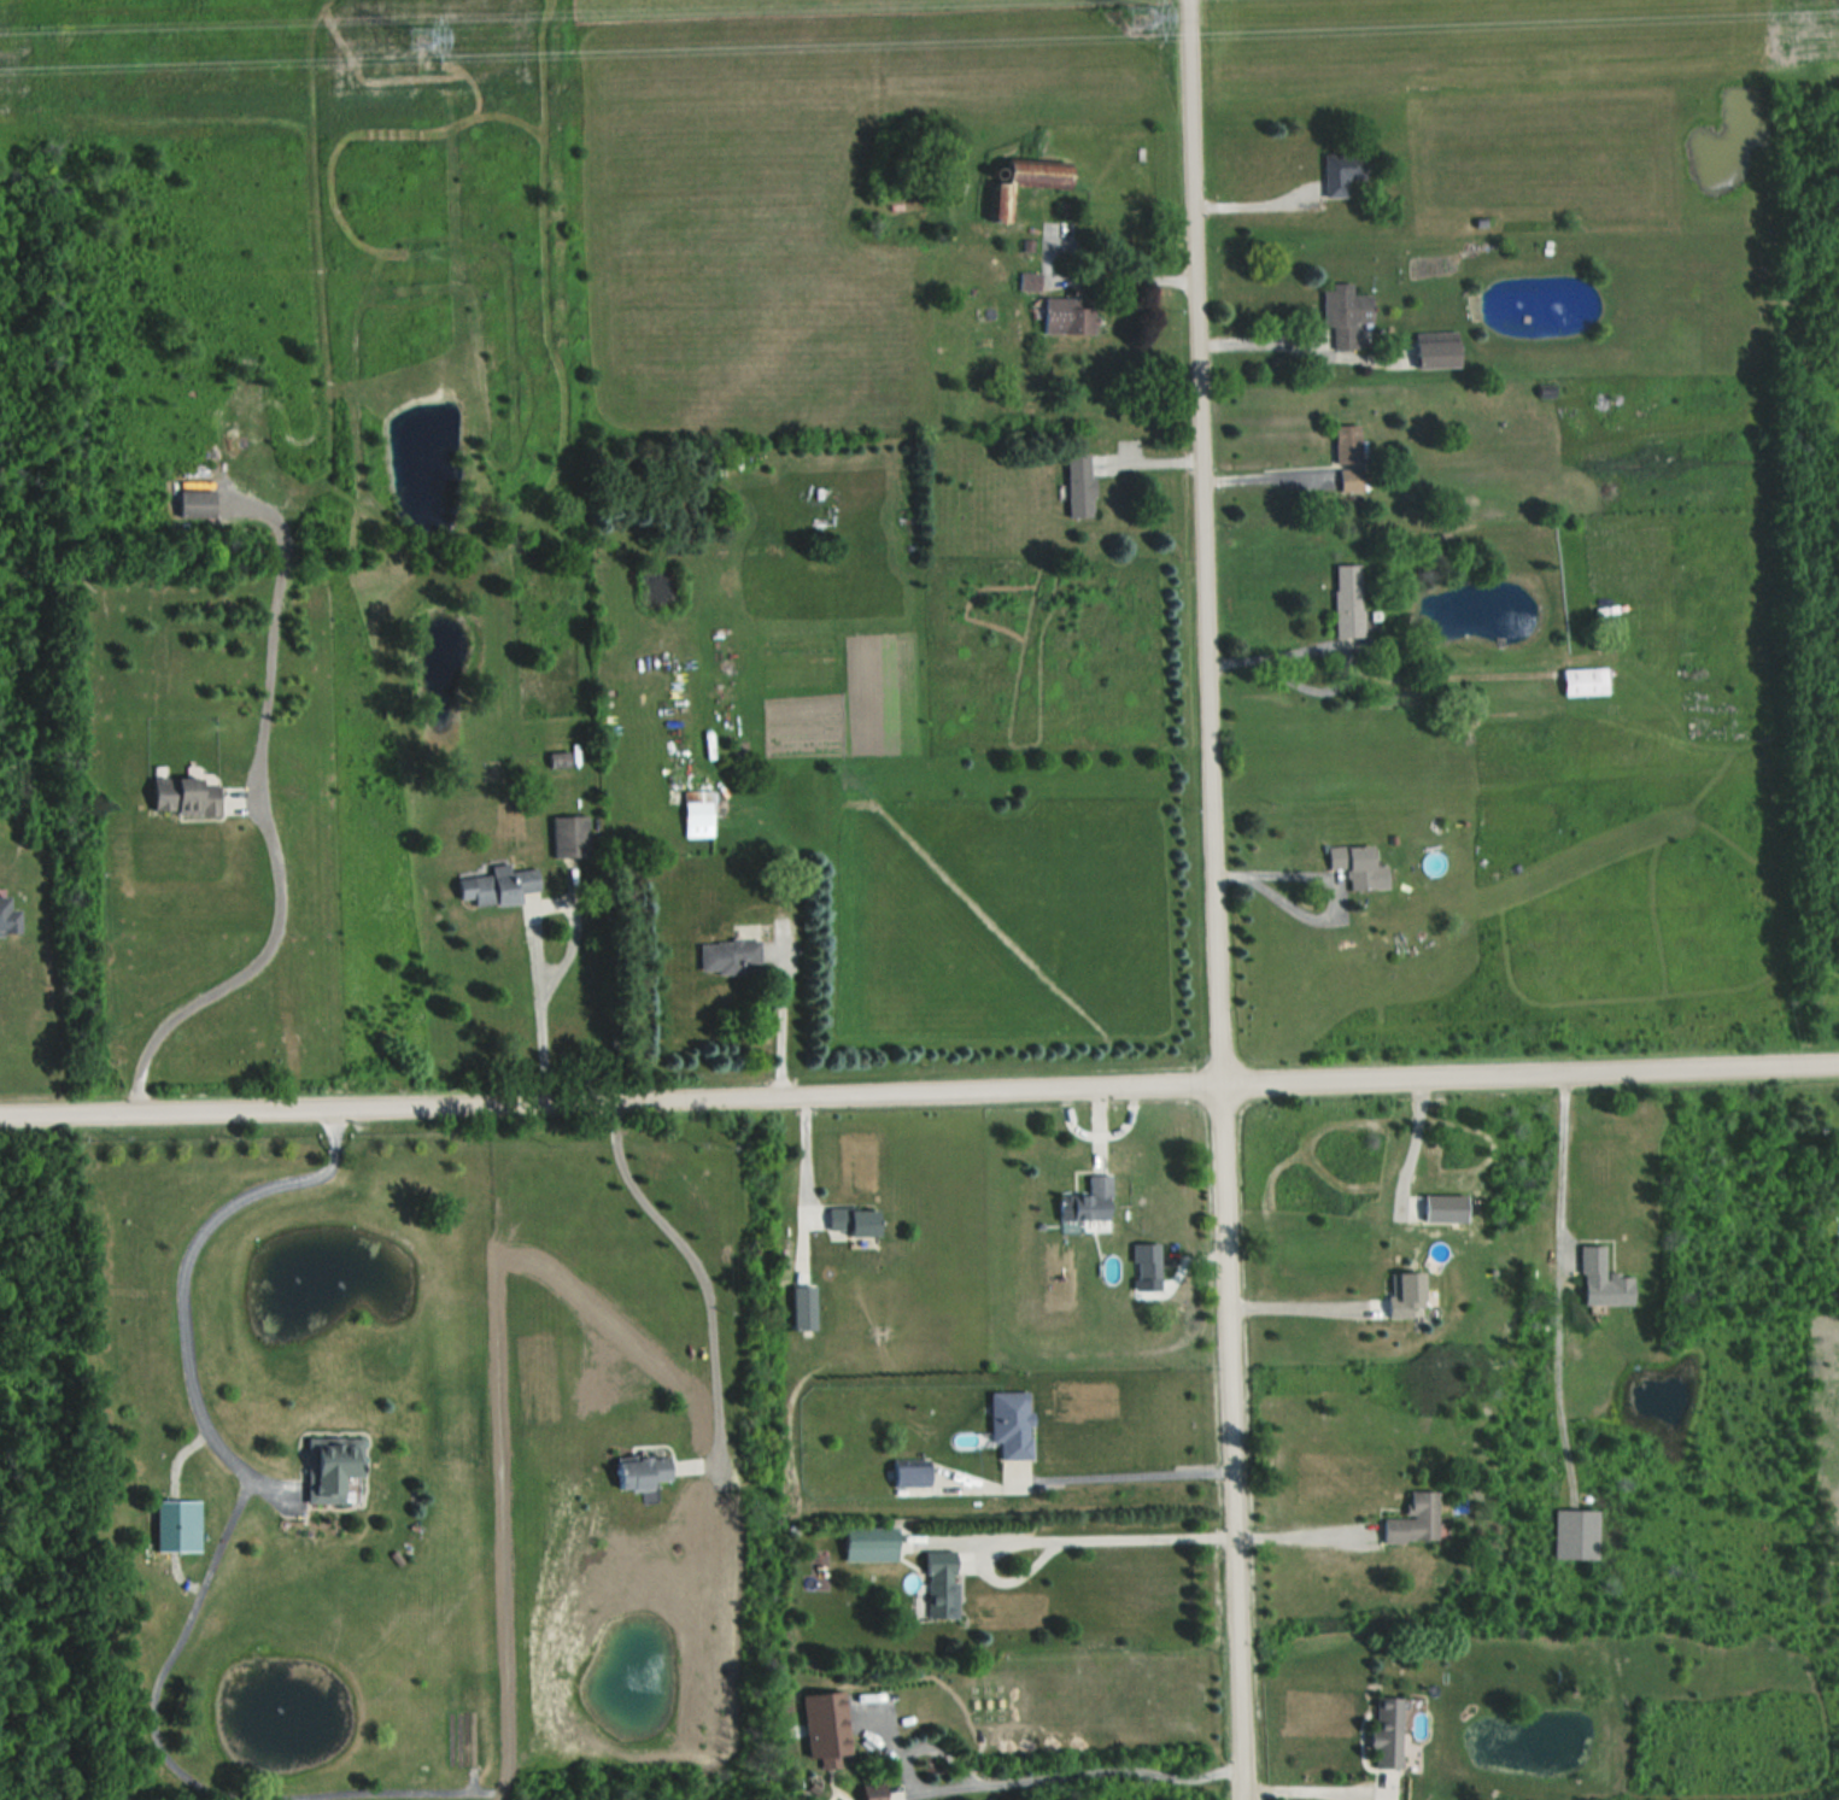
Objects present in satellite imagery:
power tower: (1136, 23)
power tower: (412, 53)
building: (1346, 171)
building: (1003, 201)
road: (1255, 205)
road: (1062, 278)
building: (1032, 282)
building: (1349, 313)
building: (1071, 316)
road: (1261, 340)
building: (1443, 350)
building: (1352, 457)
road: (1267, 476)
building: (1084, 486)
building: (199, 504)
building: (1352, 600)
road: (1341, 646)
building: (1588, 681)
building: (562, 761)
building: (192, 796)
building: (701, 814)
building: (574, 837)
road: (269, 839)
building: (1364, 866)
road: (1333, 884)
building: (502, 885)
road: (1211, 899)
building: (11, 917)
road: (538, 944)
building: (731, 956)
road: (780, 1026)
road: (919, 1097)
road: (1553, 1159)
road: (806, 1174)
building: (1094, 1202)
building: (859, 1221)
road: (680, 1250)
building: (1150, 1262)
road: (182, 1280)
building: (1606, 1280)
building: (1411, 1295)
road: (1292, 1306)
building: (807, 1308)
building: (1015, 1423)
building: (335, 1470)
building: (646, 1472)
road: (1123, 1472)
building: (915, 1473)
building: (1419, 1519)
road: (1300, 1532)
building: (1579, 1532)
road: (1112, 1536)
building: (945, 1583)
building: (1392, 1731)
building: (826, 1747)
road: (1015, 1778)
road: (1304, 1792)
building: (879, 1796)

